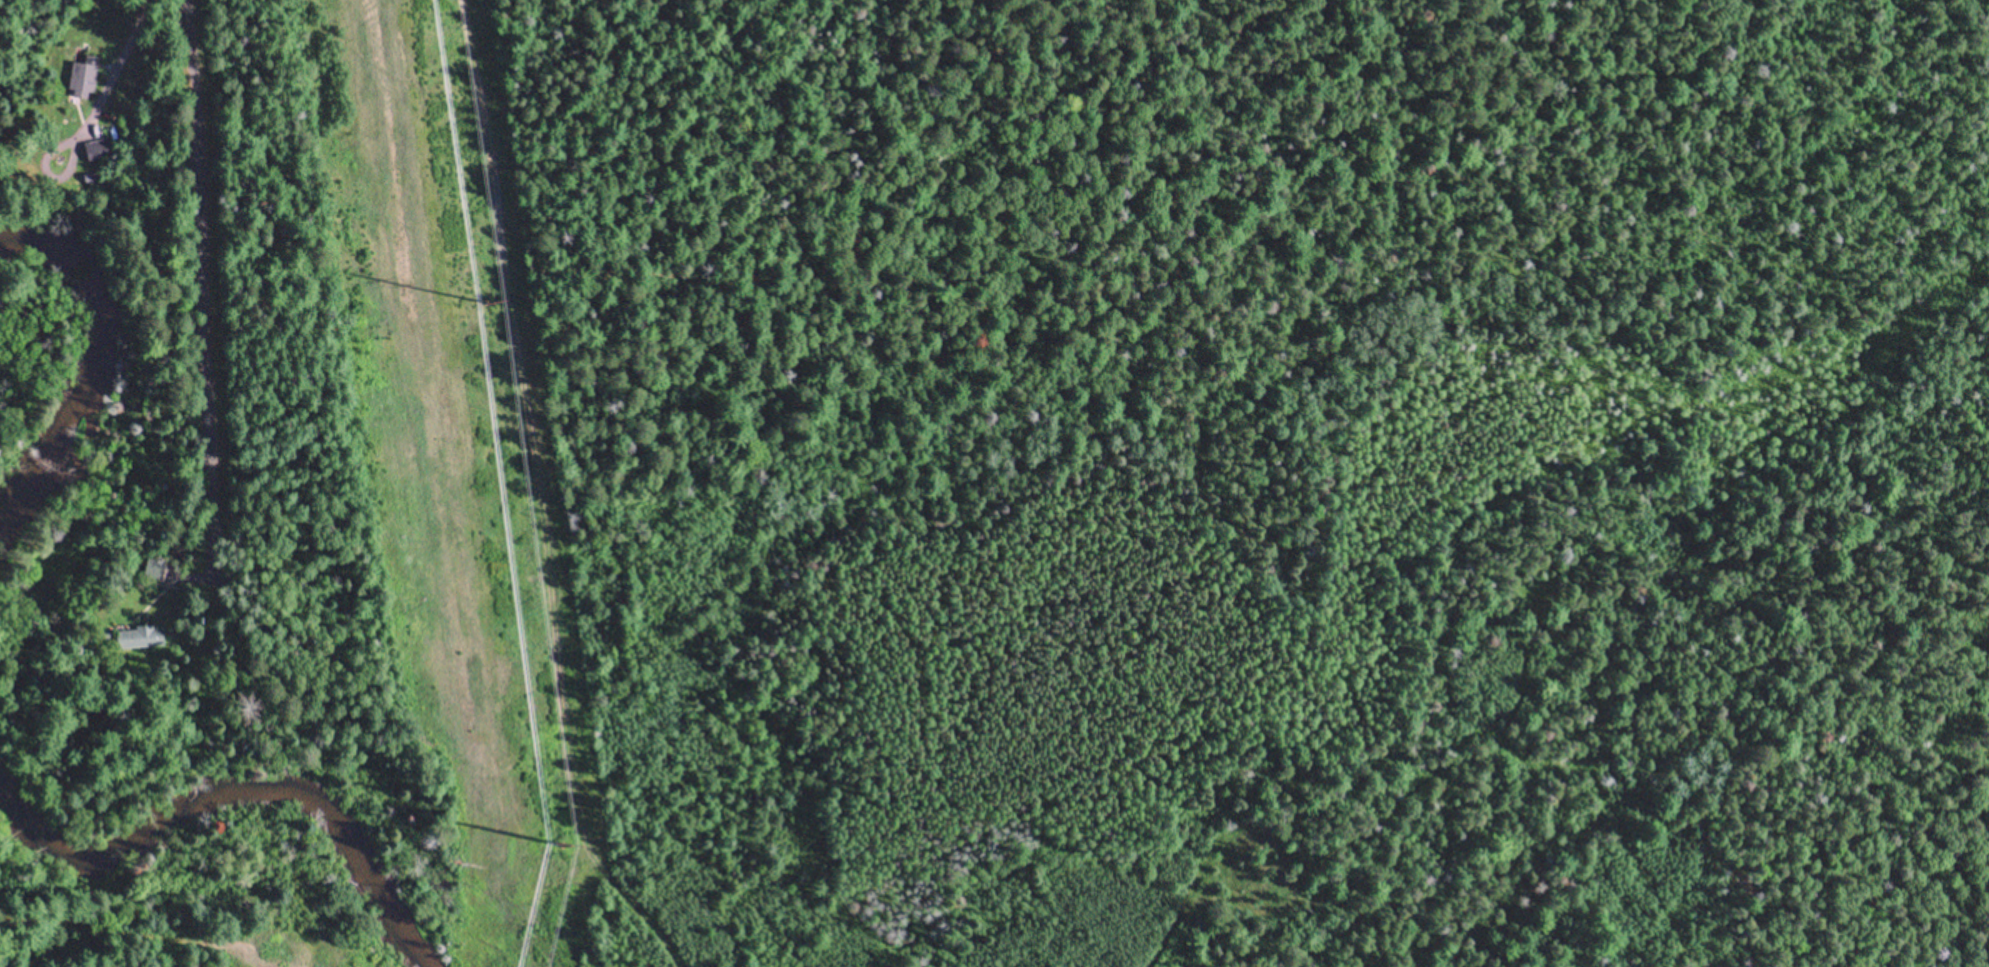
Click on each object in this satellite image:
building: (81, 72)
road: (89, 116)
building: (95, 143)
road: (215, 292)
power tower: (489, 303)
river: (79, 374)
road: (541, 498)
building: (154, 569)
building: (145, 637)
river: (217, 797)
power tower: (565, 847)
road: (75, 924)

